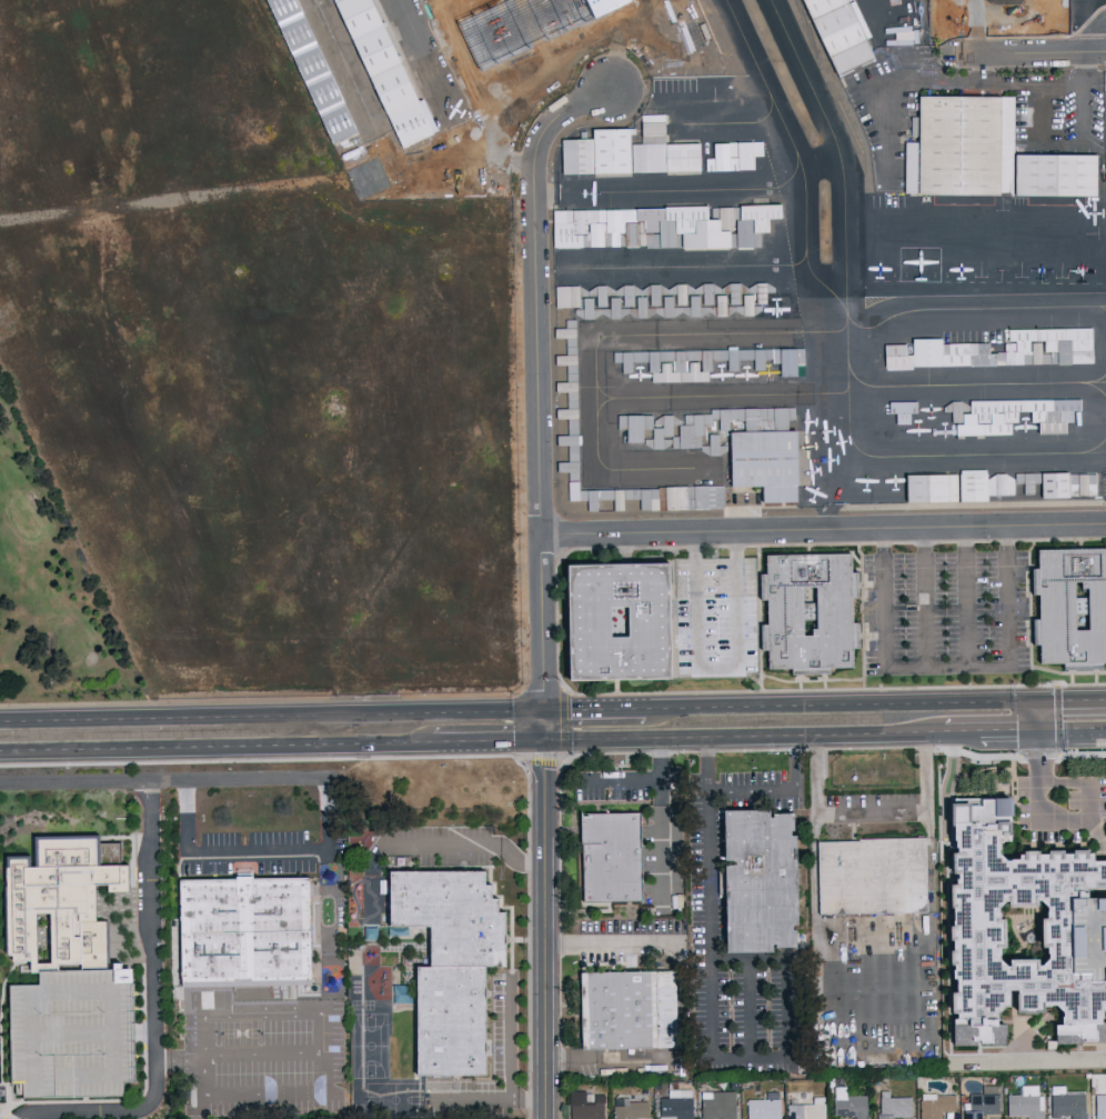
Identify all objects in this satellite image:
road: (978, 4)
building: (823, 7)
road: (1037, 8)
building: (566, 10)
road: (964, 10)
road: (1087, 23)
airport apron: (846, 26)
building: (531, 28)
building: (839, 29)
road: (973, 32)
road: (1099, 44)
road: (998, 56)
road: (549, 67)
road: (982, 67)
building: (304, 69)
building: (378, 76)
road: (927, 78)
road: (1084, 101)
building: (658, 150)
building: (994, 150)
building: (731, 156)
airport taxiway: (798, 159)
building: (658, 226)
airport: (529, 297)
building: (640, 301)
airport taxiway: (971, 309)
airport taxiway: (847, 343)
building: (1001, 351)
building: (783, 359)
building: (683, 362)
road: (536, 376)
building: (901, 411)
building: (1017, 419)
building: (633, 426)
building: (567, 429)
building: (765, 464)
building: (1005, 488)
building: (651, 497)
road: (823, 530)
road: (966, 597)
road: (926, 598)
building: (1072, 606)
building: (811, 612)
parking lot: (946, 612)
parking lot: (717, 618)
building: (621, 622)
road: (948, 668)
road: (717, 671)
road: (1073, 697)
road: (843, 701)
road: (594, 703)
road: (272, 712)
road: (544, 712)
road: (1040, 712)
road: (1073, 727)
road: (544, 728)
road: (997, 729)
road: (939, 730)
road: (734, 733)
road: (485, 738)
road: (213, 746)
road: (165, 781)
road: (603, 781)
road: (780, 789)
building: (1104, 796)
road: (544, 800)
road: (873, 813)
road: (662, 822)
road: (1060, 825)
road: (470, 845)
road: (222, 849)
building: (606, 855)
building: (1092, 872)
building: (748, 877)
building: (873, 879)
building: (995, 881)
road: (328, 890)
road: (545, 903)
building: (252, 936)
road: (615, 943)
building: (71, 945)
building: (442, 961)
road: (329, 1002)
road: (878, 1003)
road: (751, 1007)
road: (154, 1010)
building: (627, 1013)
road: (713, 1022)
road: (546, 1030)
road: (509, 1036)
road: (1057, 1059)
road: (485, 1099)
building: (982, 1102)
building: (1025, 1102)
building: (849, 1103)
building: (585, 1105)
building: (675, 1105)
building: (718, 1105)
building: (935, 1105)
building: (1067, 1105)
road: (199, 1106)
building: (893, 1106)
building: (1099, 1106)
building: (763, 1107)
building: (627, 1108)
building: (806, 1109)

